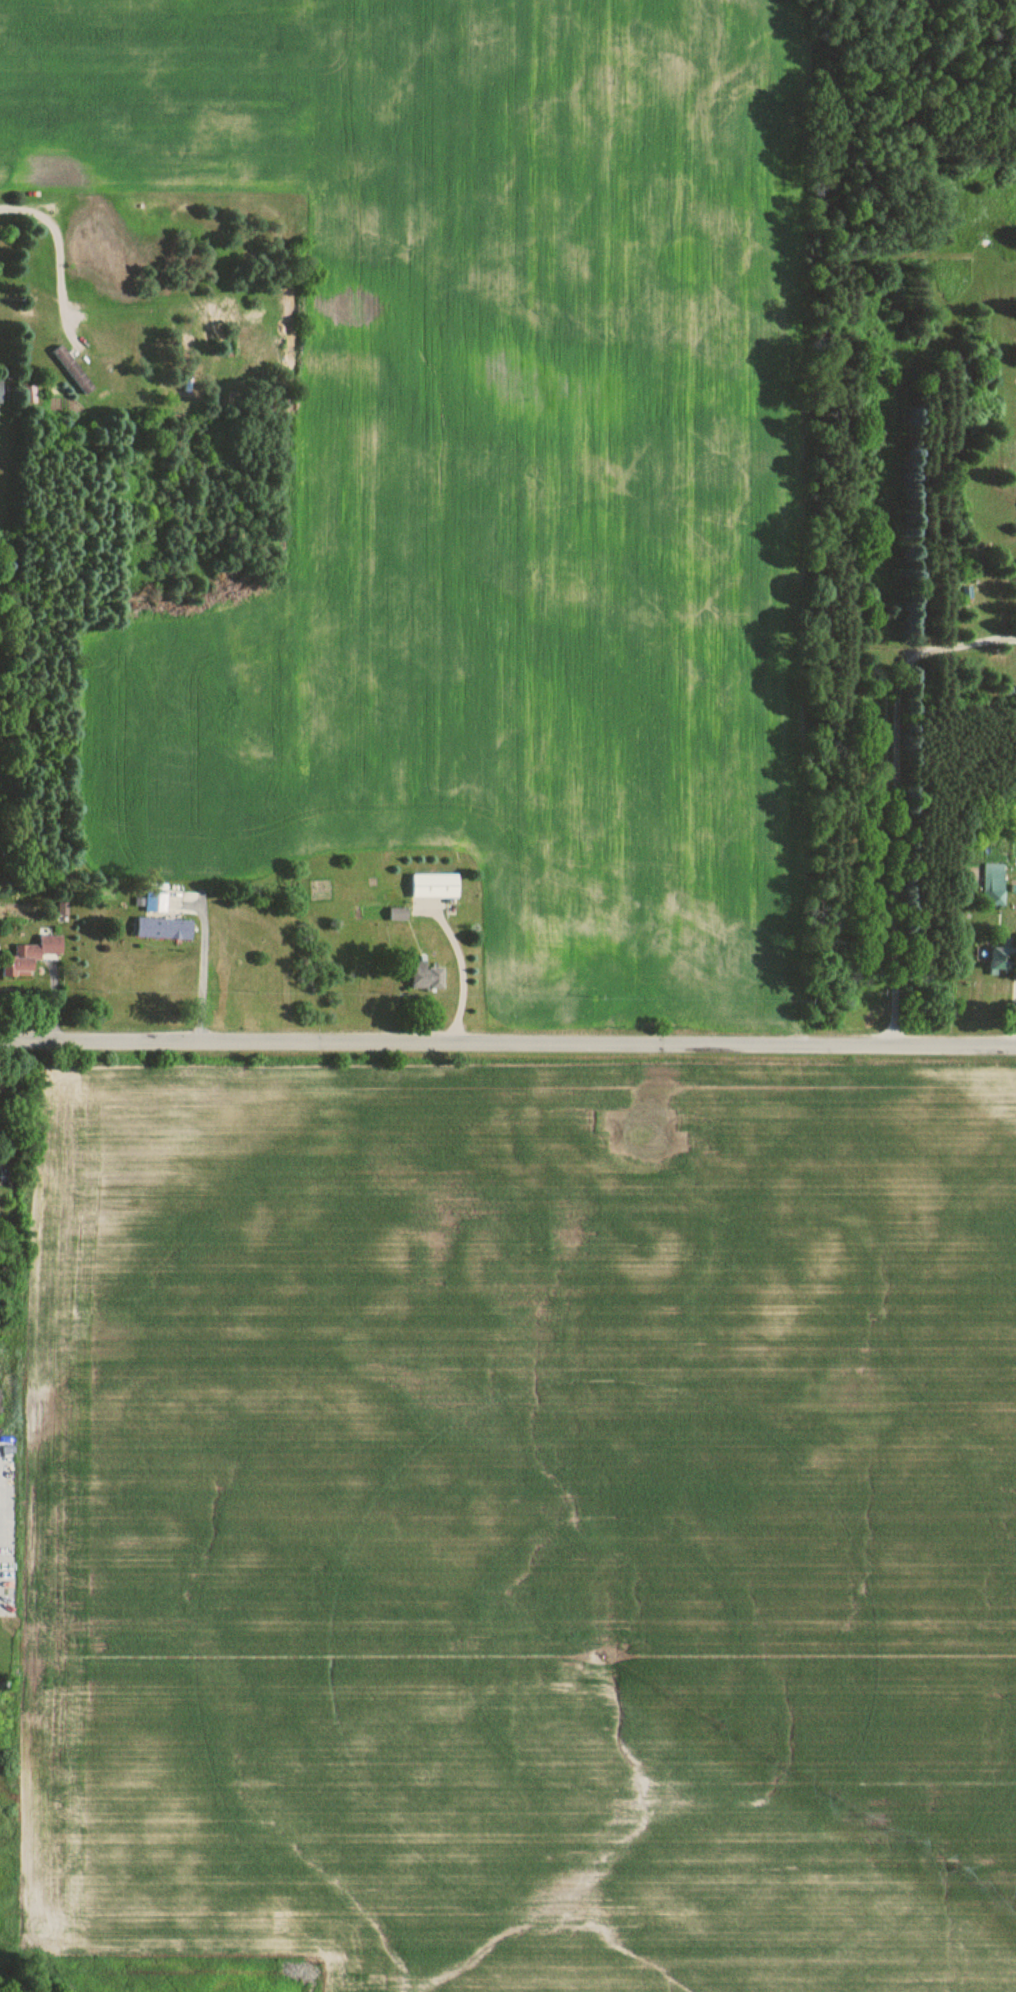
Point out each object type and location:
road: (56, 240)
building: (74, 370)
building: (0, 391)
building: (977, 552)
road: (896, 795)
building: (994, 885)
building: (436, 887)
building: (156, 903)
building: (164, 930)
building: (30, 957)
building: (1002, 960)
road: (453, 974)
building: (427, 979)
road: (508, 1043)

